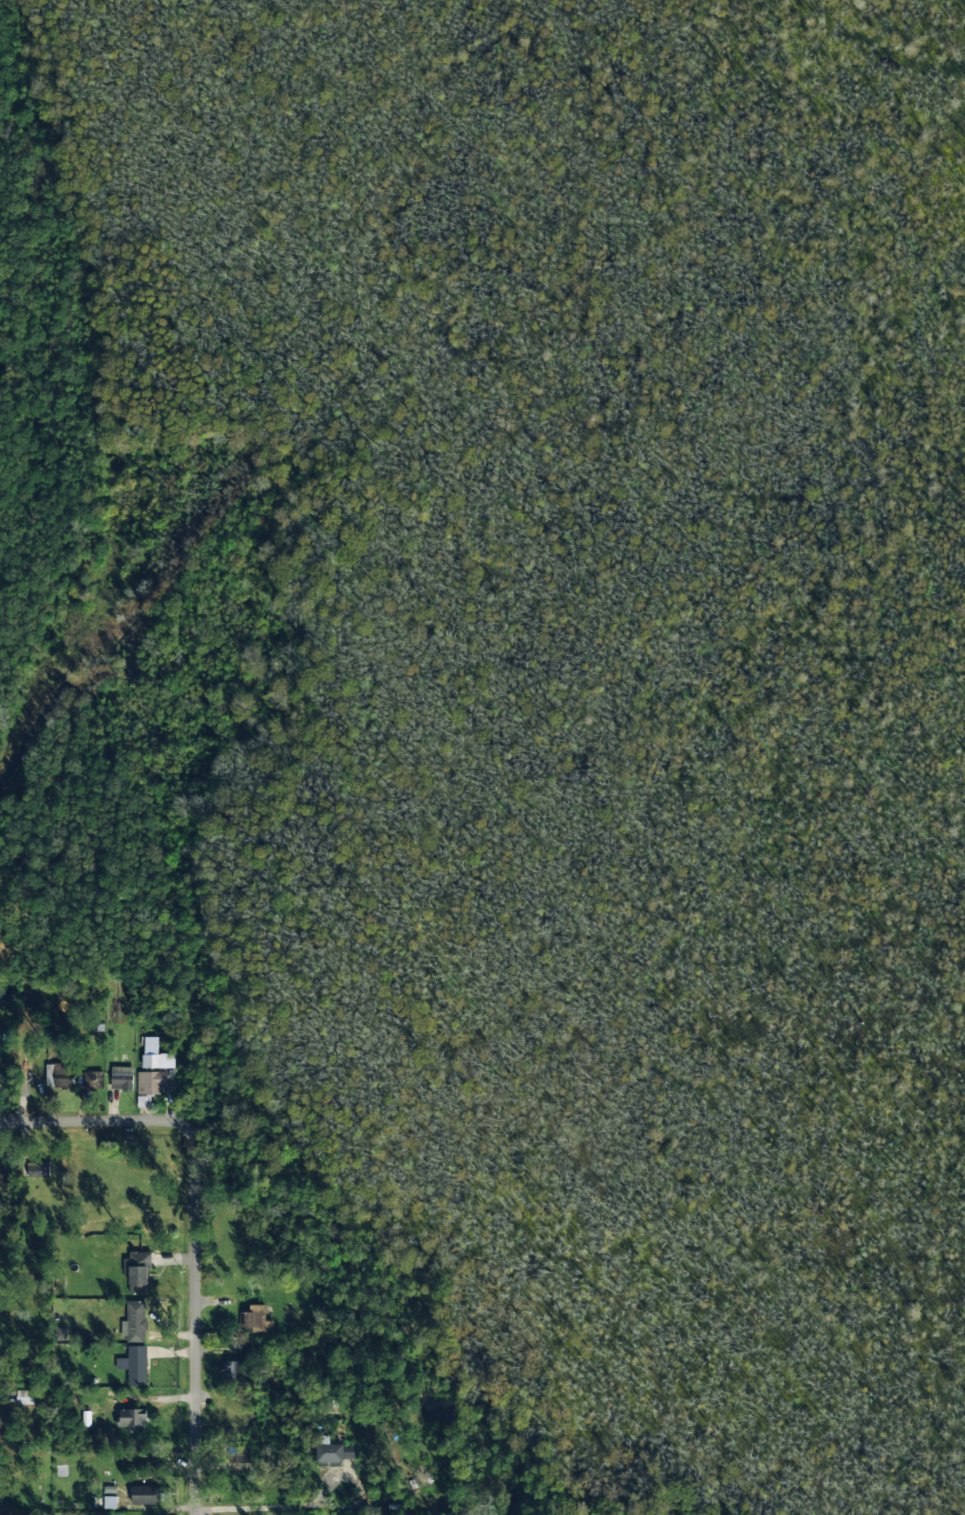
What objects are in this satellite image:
building: (157, 1061)
building: (59, 1075)
building: (122, 1079)
building: (93, 1080)
building: (150, 1083)
road: (76, 1123)
building: (137, 1271)
road: (192, 1306)
building: (256, 1320)
building: (134, 1323)
building: (134, 1365)
building: (232, 1370)
building: (131, 1419)
building: (335, 1451)
building: (240, 1455)
building: (146, 1495)
building: (109, 1503)

